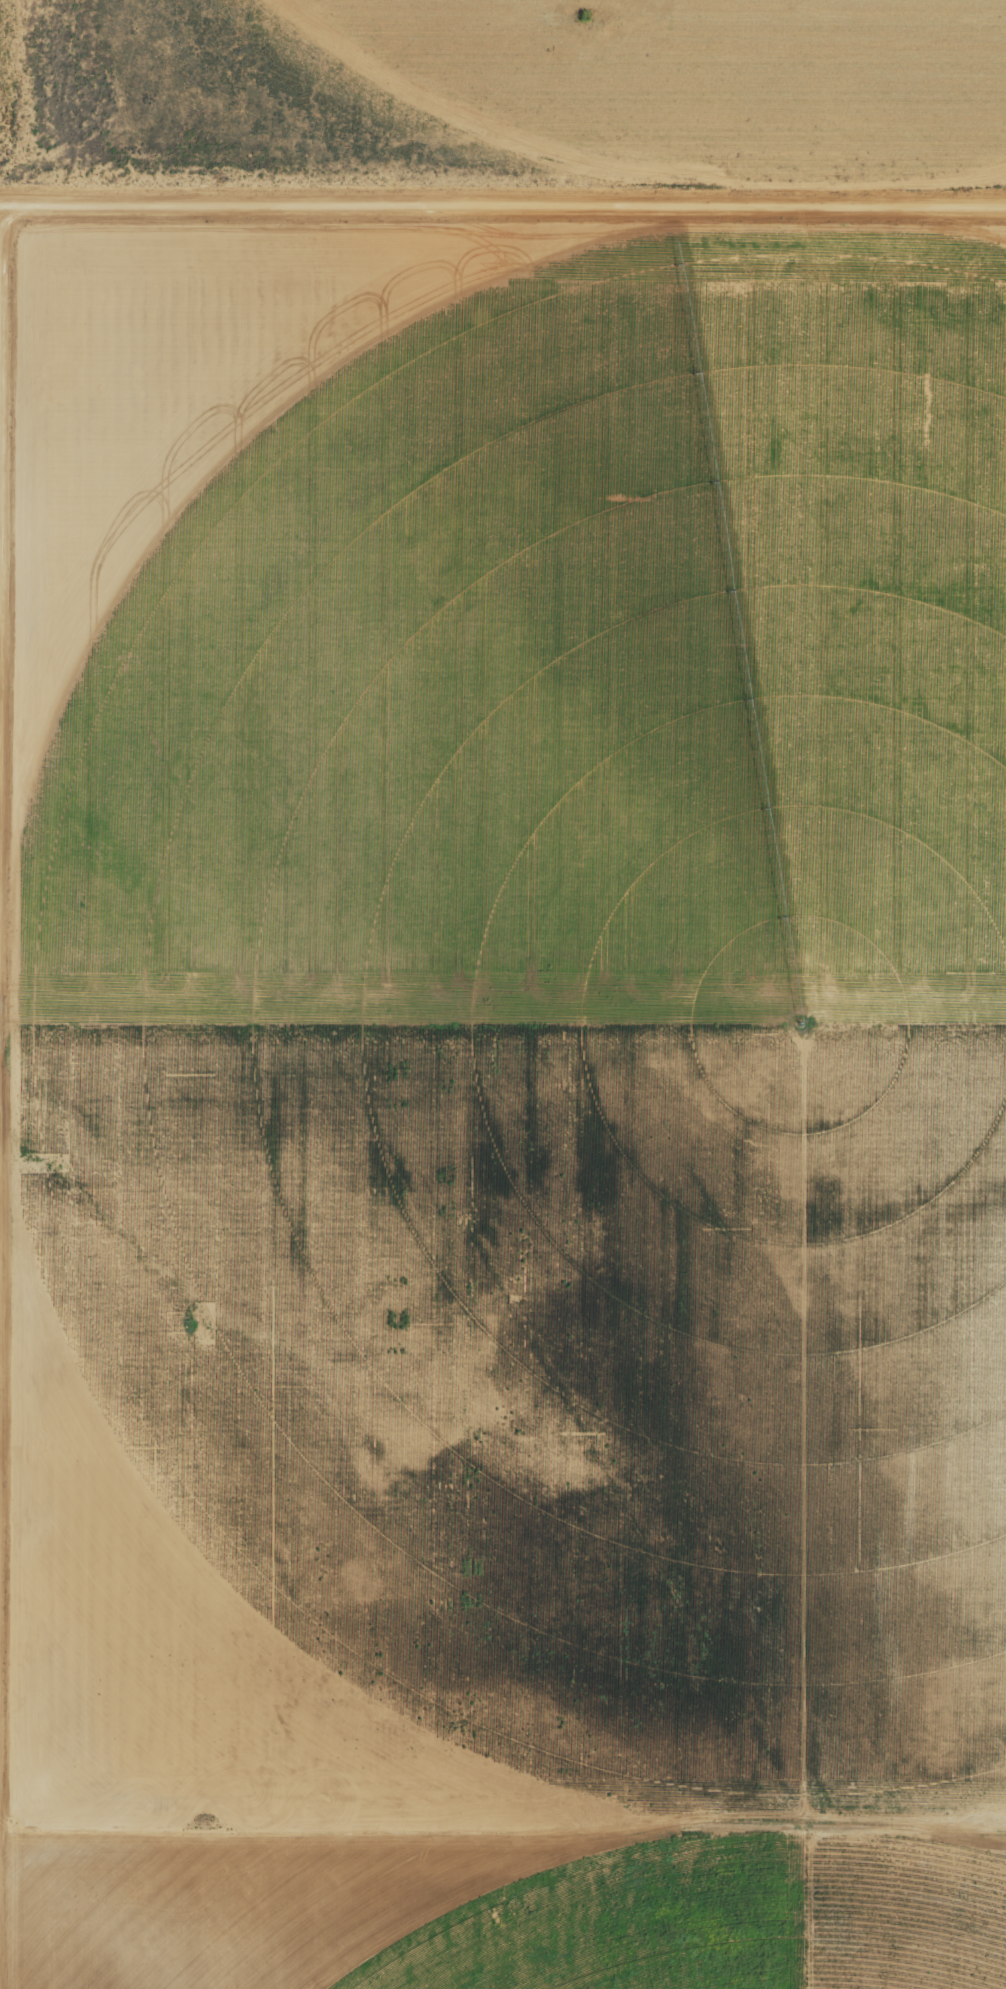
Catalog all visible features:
road: (503, 193)

